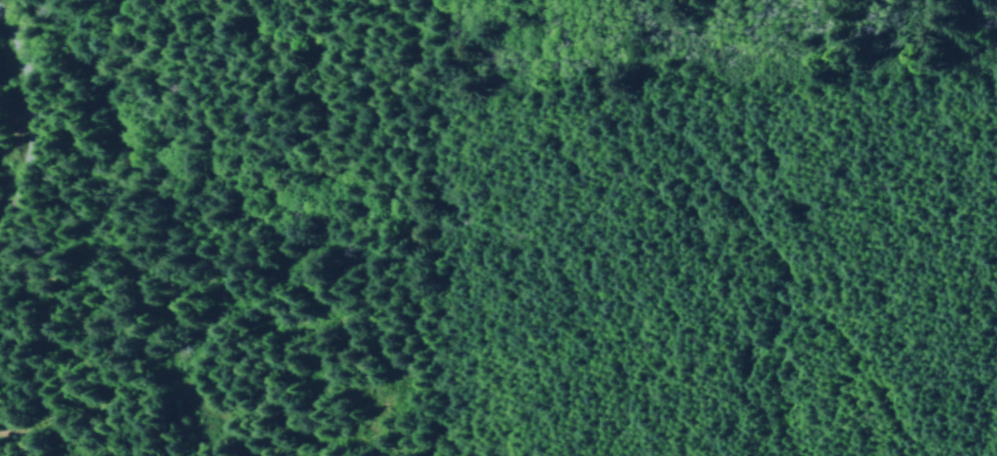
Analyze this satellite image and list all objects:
road: (32, 130)

